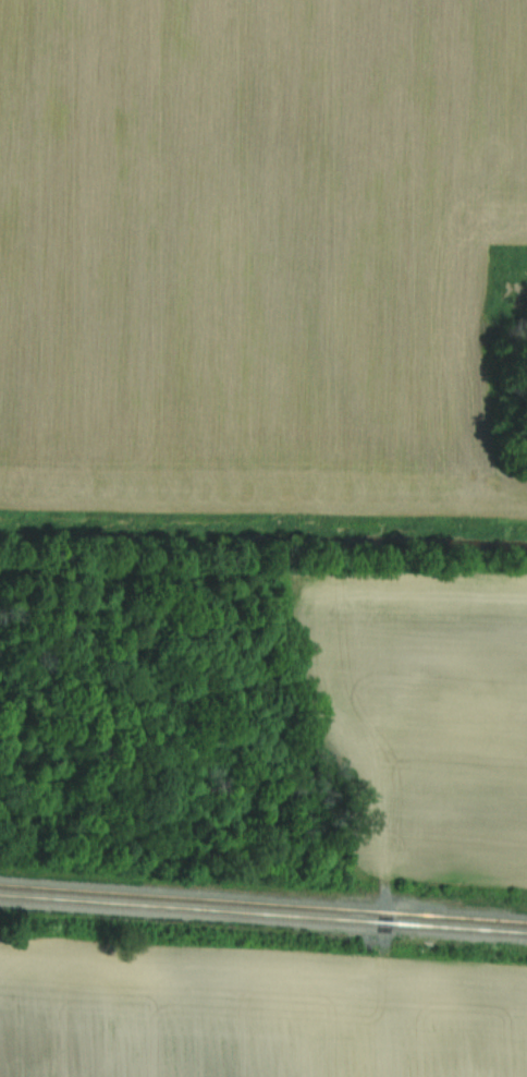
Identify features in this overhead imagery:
crop: (425, 717)
railway: (263, 903)
railway: (263, 911)

